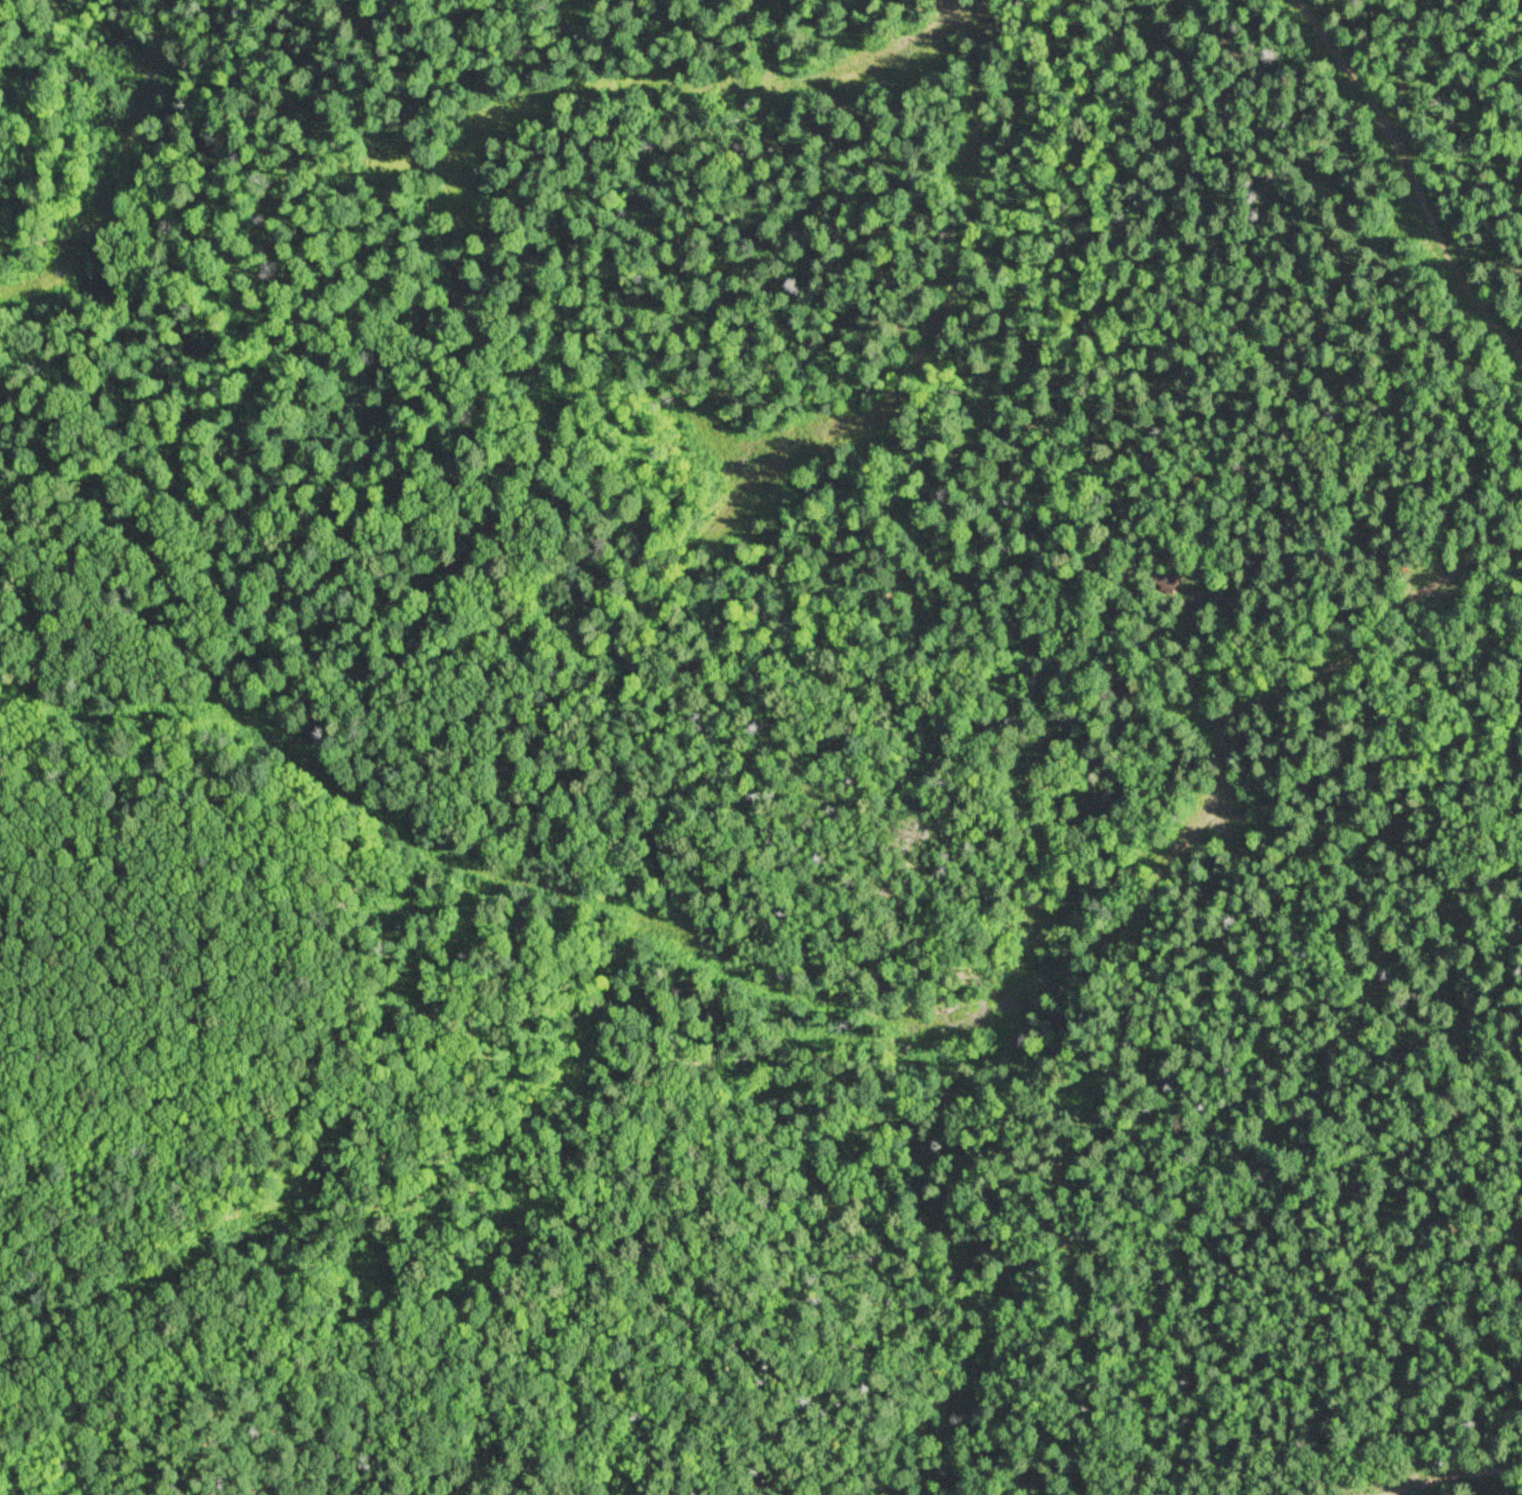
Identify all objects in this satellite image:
road: (1394, 174)
road: (1133, 933)
road: (1451, 1445)

